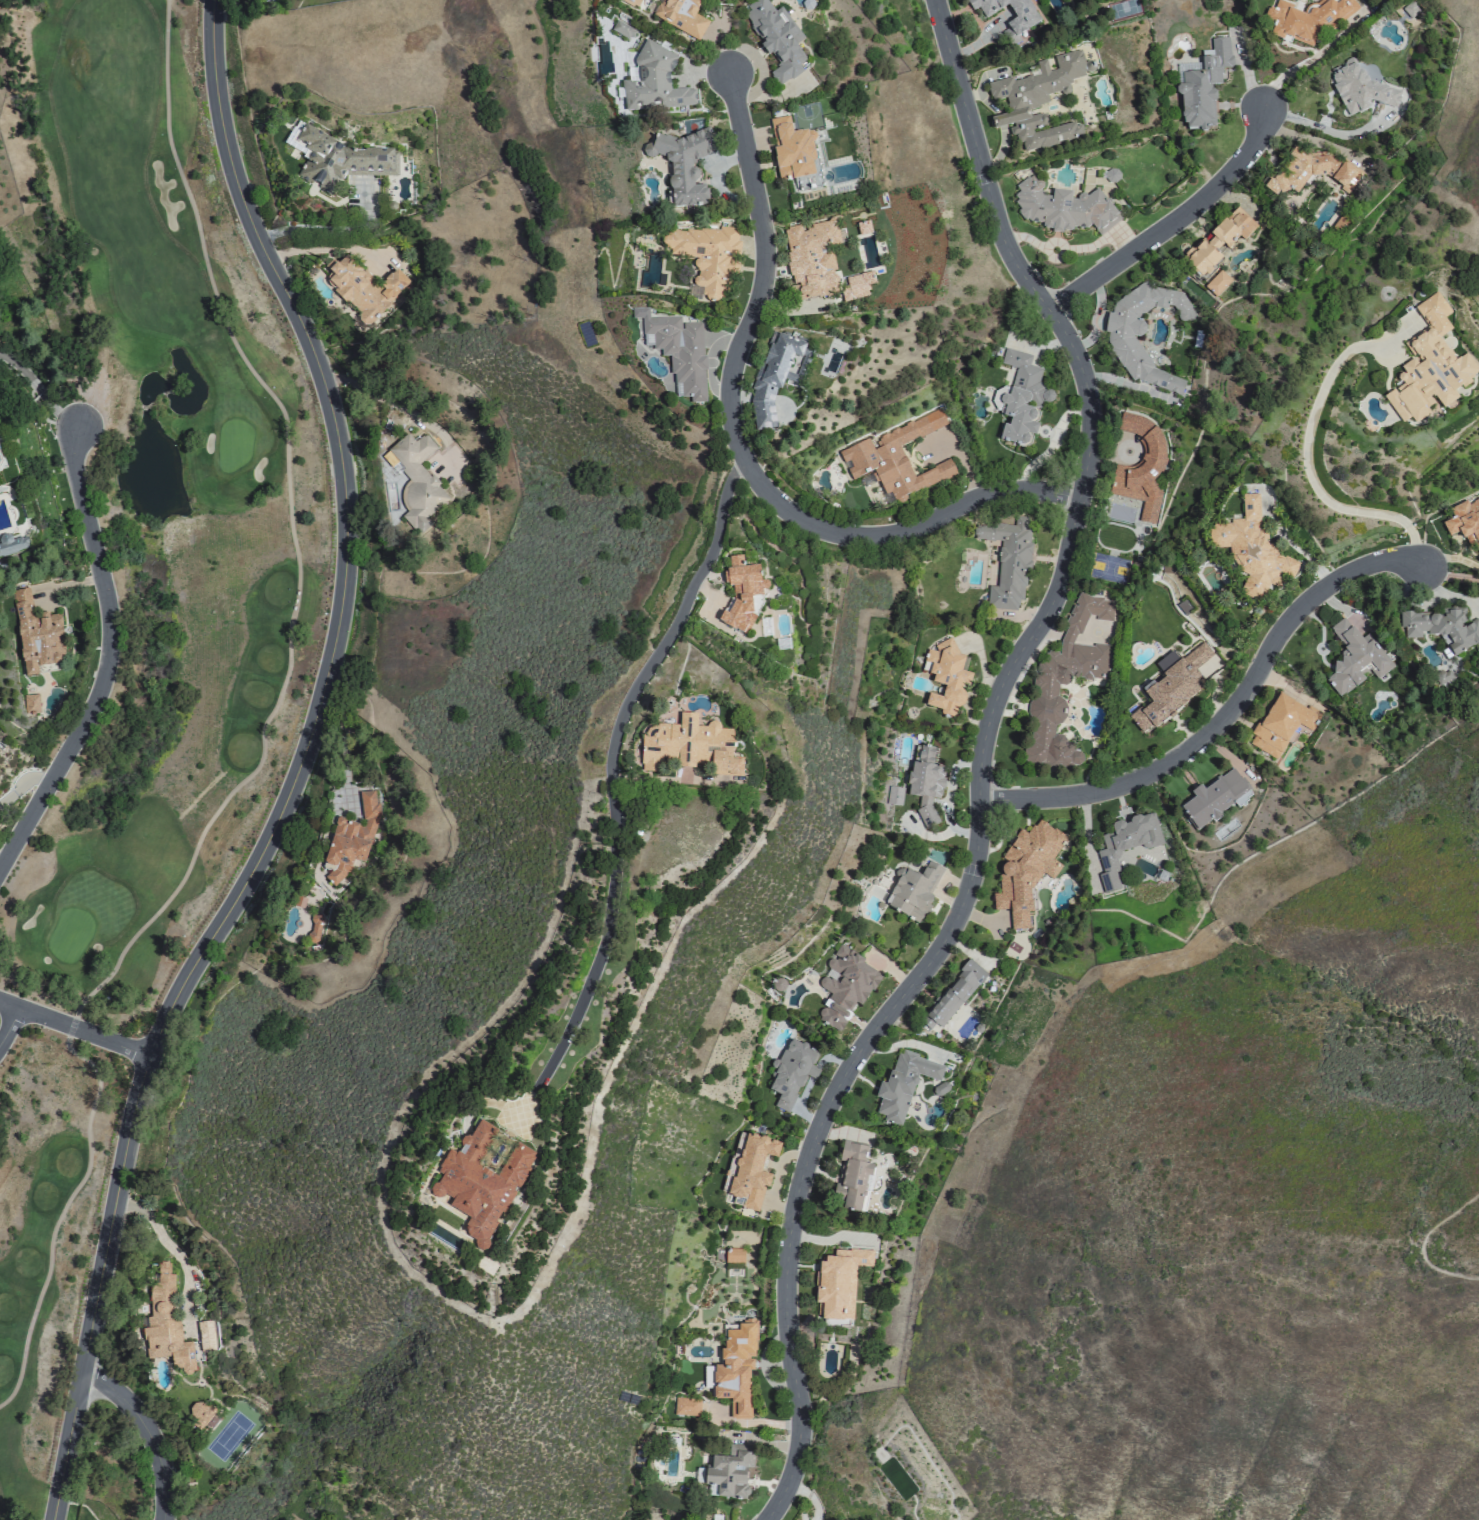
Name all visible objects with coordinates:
building: (630, 2)
building: (681, 16)
building: (1020, 18)
building: (1307, 20)
building: (622, 30)
building: (776, 38)
road: (1305, 61)
building: (1203, 85)
building: (1360, 89)
building: (1038, 102)
road: (1321, 128)
building: (790, 149)
building: (340, 159)
building: (683, 164)
building: (1111, 174)
building: (1289, 178)
building: (1062, 207)
road: (1177, 221)
road: (335, 229)
building: (1218, 241)
road: (333, 247)
building: (707, 255)
building: (812, 257)
building: (1217, 282)
building: (856, 285)
building: (362, 287)
building: (1140, 333)
building: (676, 349)
building: (1429, 366)
building: (771, 376)
road: (38, 389)
building: (1021, 399)
road: (397, 407)
road: (1052, 444)
road: (741, 449)
building: (896, 458)
road: (1308, 461)
building: (1142, 466)
building: (416, 479)
building: (1465, 521)
building: (12, 544)
building: (1252, 549)
building: (1010, 565)
road: (1449, 578)
building: (740, 592)
park: (141, 613)
road: (333, 621)
building: (1443, 627)
building: (36, 634)
road: (104, 657)
building: (1355, 659)
building: (945, 676)
building: (1065, 682)
building: (1175, 683)
building: (30, 703)
road: (1227, 716)
building: (1281, 725)
road: (260, 735)
building: (689, 746)
road: (982, 761)
road: (609, 766)
road: (20, 783)
building: (925, 783)
building: (1214, 798)
building: (352, 835)
building: (1124, 844)
building: (1026, 871)
building: (314, 931)
building: (973, 967)
building: (844, 986)
building: (950, 999)
road: (6, 1018)
road: (71, 1026)
building: (791, 1071)
building: (905, 1084)
building: (748, 1169)
building: (853, 1177)
road: (1421, 1242)
road: (172, 1253)
building: (733, 1255)
building: (838, 1281)
building: (165, 1324)
building: (733, 1368)
road: (82, 1370)
building: (686, 1406)
building: (199, 1413)
road: (150, 1431)
building: (727, 1474)

